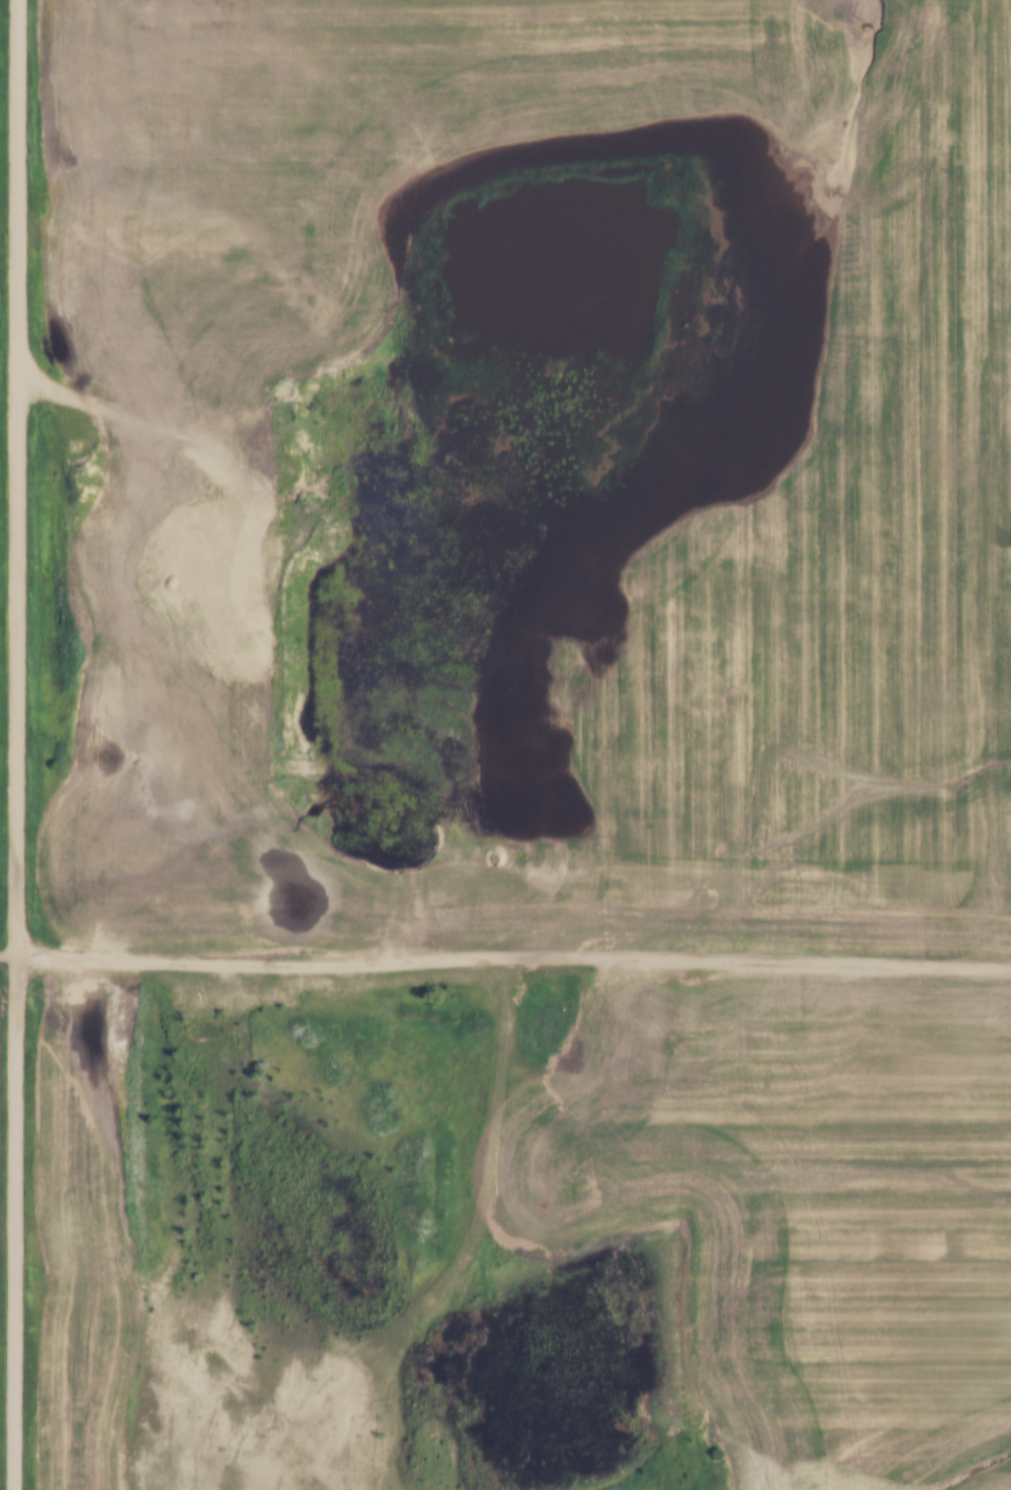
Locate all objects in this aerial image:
quarry: (256, 573)
road: (263, 611)
road: (13, 745)
road: (6, 957)
road: (201, 961)
road: (700, 962)
quarry: (237, 1389)

